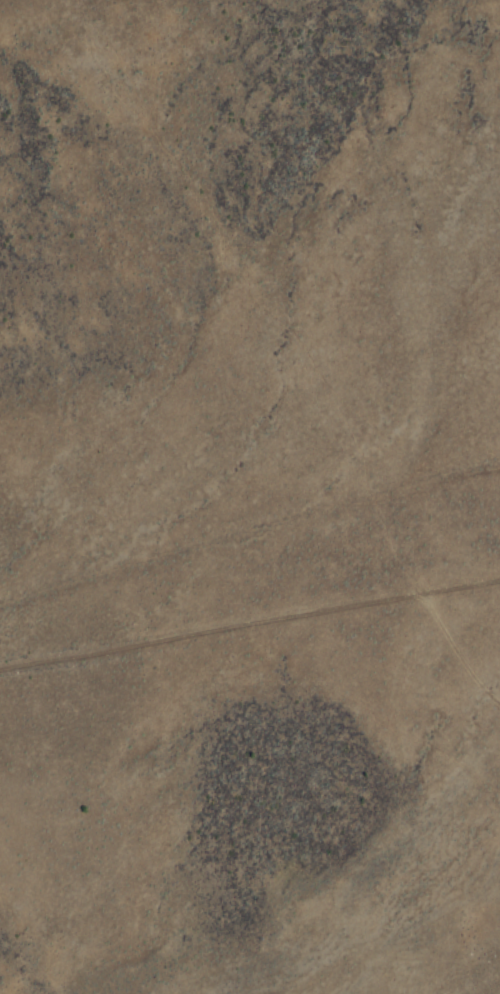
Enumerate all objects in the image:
road: (249, 621)

